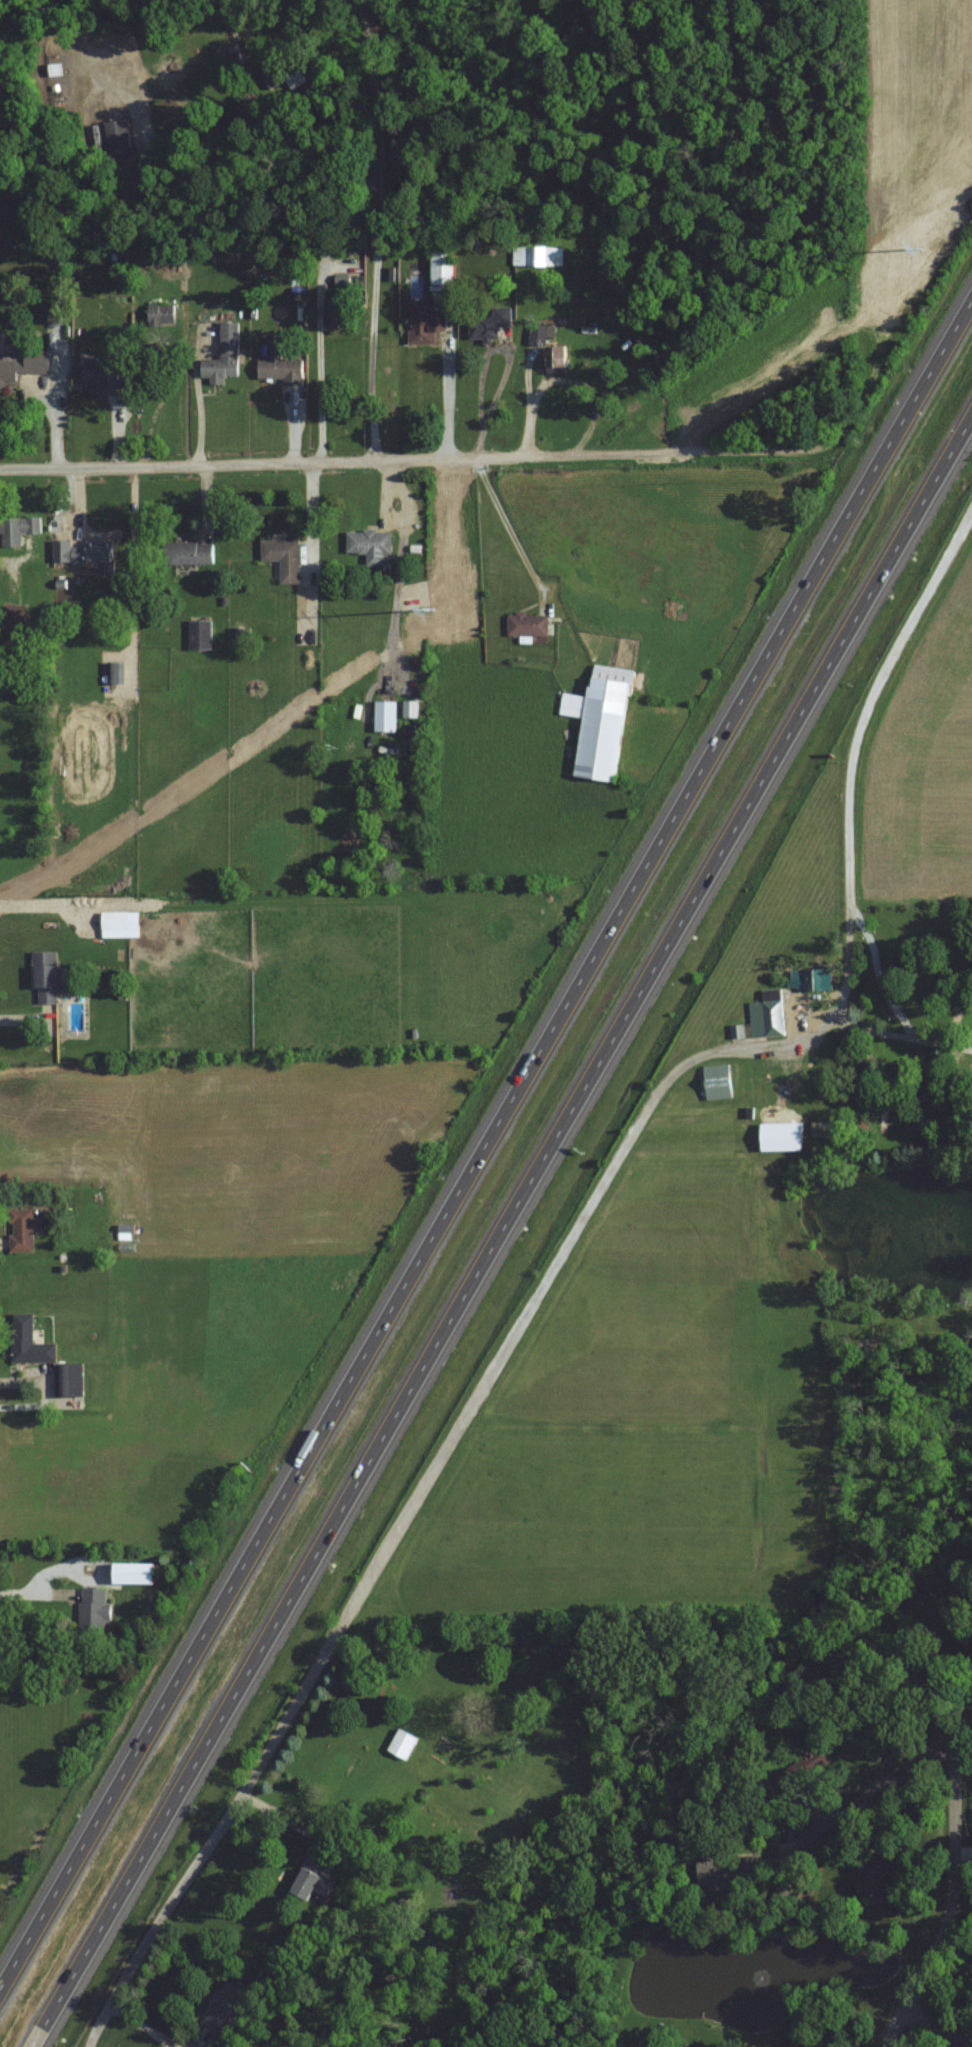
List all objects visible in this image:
building: (284, 75)
building: (118, 132)
power tower: (960, 215)
building: (537, 255)
building: (443, 266)
building: (337, 311)
road: (55, 313)
building: (158, 314)
building: (489, 321)
building: (427, 326)
building: (538, 333)
road: (491, 349)
building: (223, 355)
building: (556, 358)
building: (26, 365)
building: (281, 367)
building: (106, 379)
road: (197, 404)
road: (404, 461)
road: (507, 525)
building: (18, 529)
building: (369, 545)
building: (85, 553)
building: (188, 553)
road: (950, 555)
building: (283, 558)
power tower: (432, 610)
building: (15, 624)
building: (527, 624)
building: (200, 635)
building: (115, 673)
road: (877, 690)
building: (410, 709)
building: (385, 716)
building: (600, 721)
road: (850, 914)
building: (115, 920)
building: (45, 977)
building: (810, 980)
road: (913, 1011)
building: (768, 1013)
road: (911, 1045)
building: (717, 1082)
road: (954, 1096)
building: (781, 1137)
road: (489, 1146)
building: (22, 1230)
road: (502, 1233)
building: (28, 1342)
building: (866, 1347)
road: (426, 1478)
building: (133, 1573)
road: (34, 1593)
building: (92, 1611)
building: (958, 1650)
road: (964, 1728)
building: (402, 1744)
road: (901, 1772)
building: (727, 1871)
building: (312, 1878)
building: (882, 1881)
road: (953, 1899)
building: (228, 2005)
road: (933, 2029)
building: (829, 2034)

